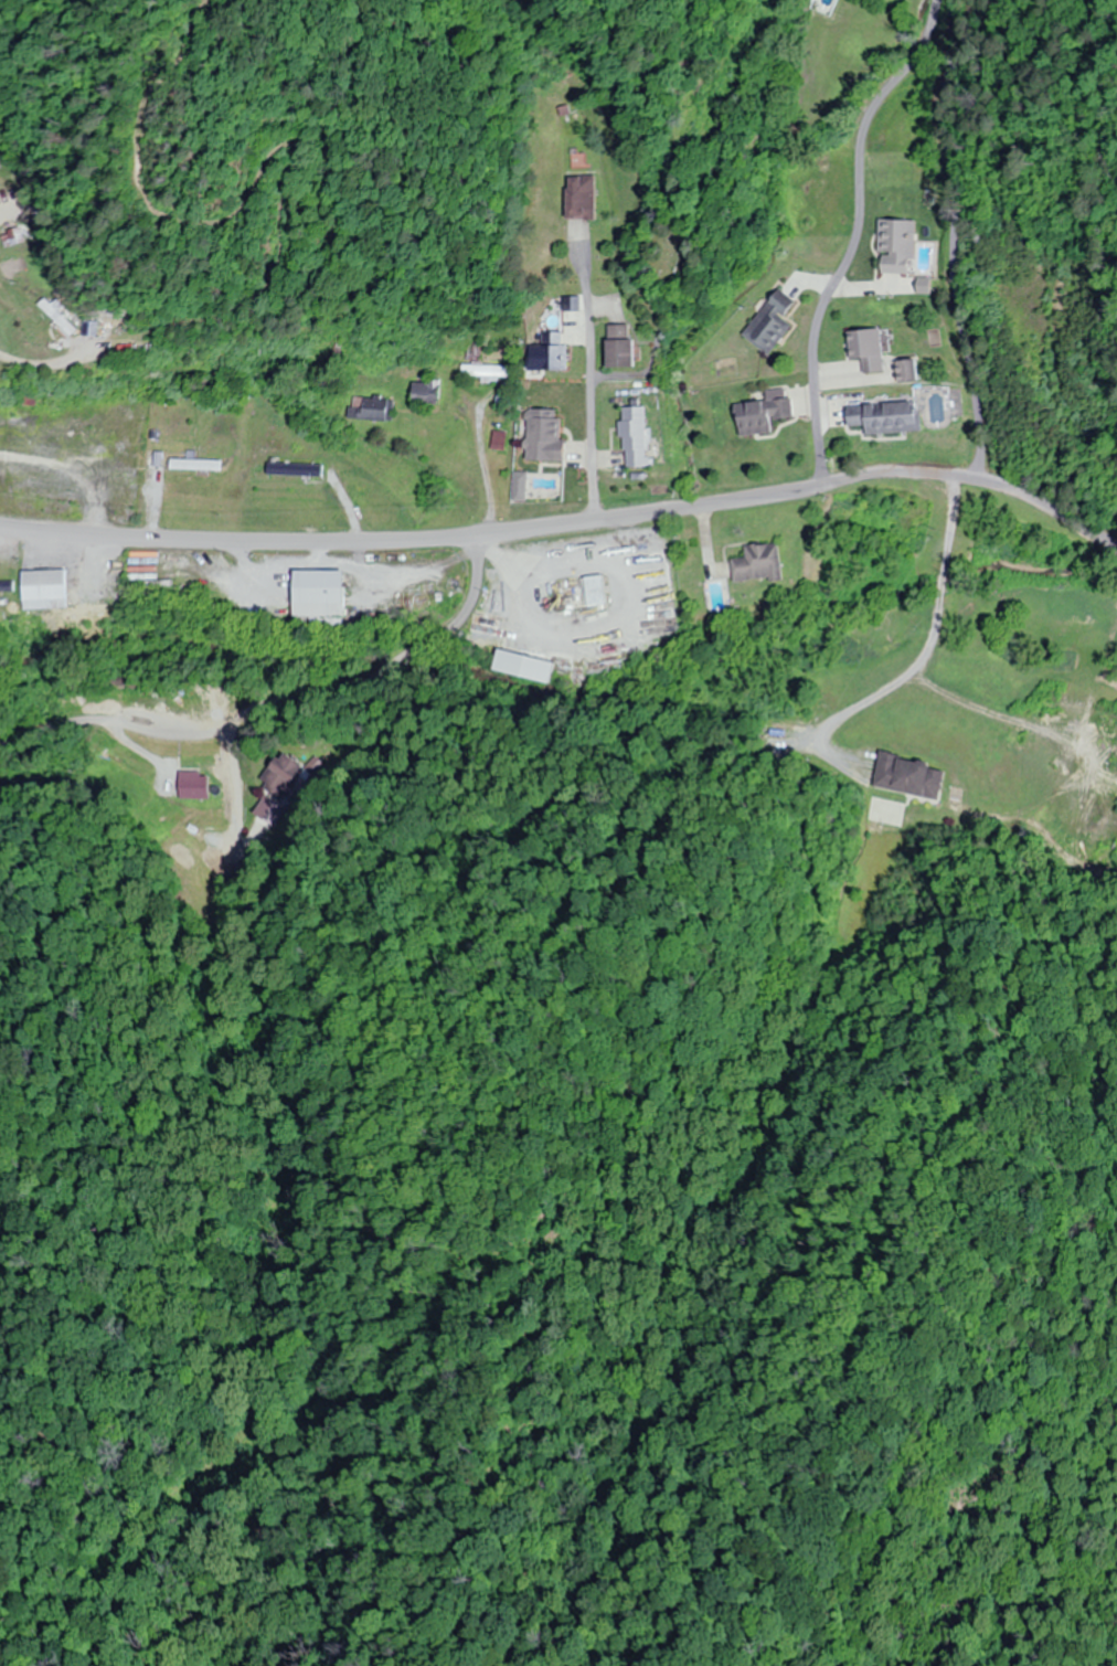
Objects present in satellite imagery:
building: (4, 183)
building: (576, 197)
road: (954, 236)
building: (895, 246)
road: (854, 247)
building: (51, 316)
building: (769, 322)
building: (618, 346)
building: (865, 349)
building: (547, 353)
building: (905, 371)
building: (485, 373)
road: (587, 389)
building: (423, 391)
building: (370, 408)
building: (763, 413)
building: (884, 417)
building: (543, 436)
building: (634, 437)
building: (196, 465)
building: (299, 469)
road: (568, 528)
building: (760, 564)
building: (49, 590)
building: (595, 592)
building: (323, 597)
building: (487, 625)
road: (278, 700)
building: (288, 776)
building: (912, 777)
building: (269, 820)

